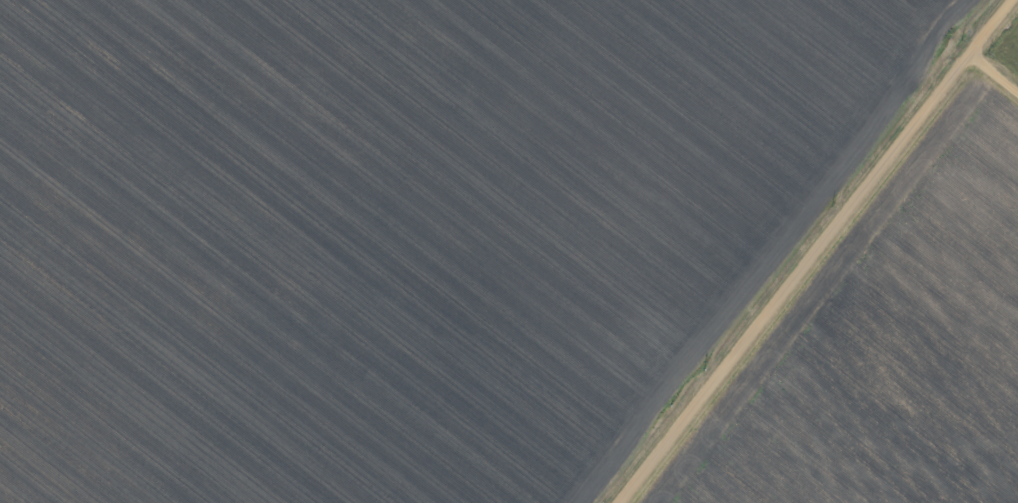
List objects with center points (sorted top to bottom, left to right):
road: (995, 69)
road: (817, 251)

